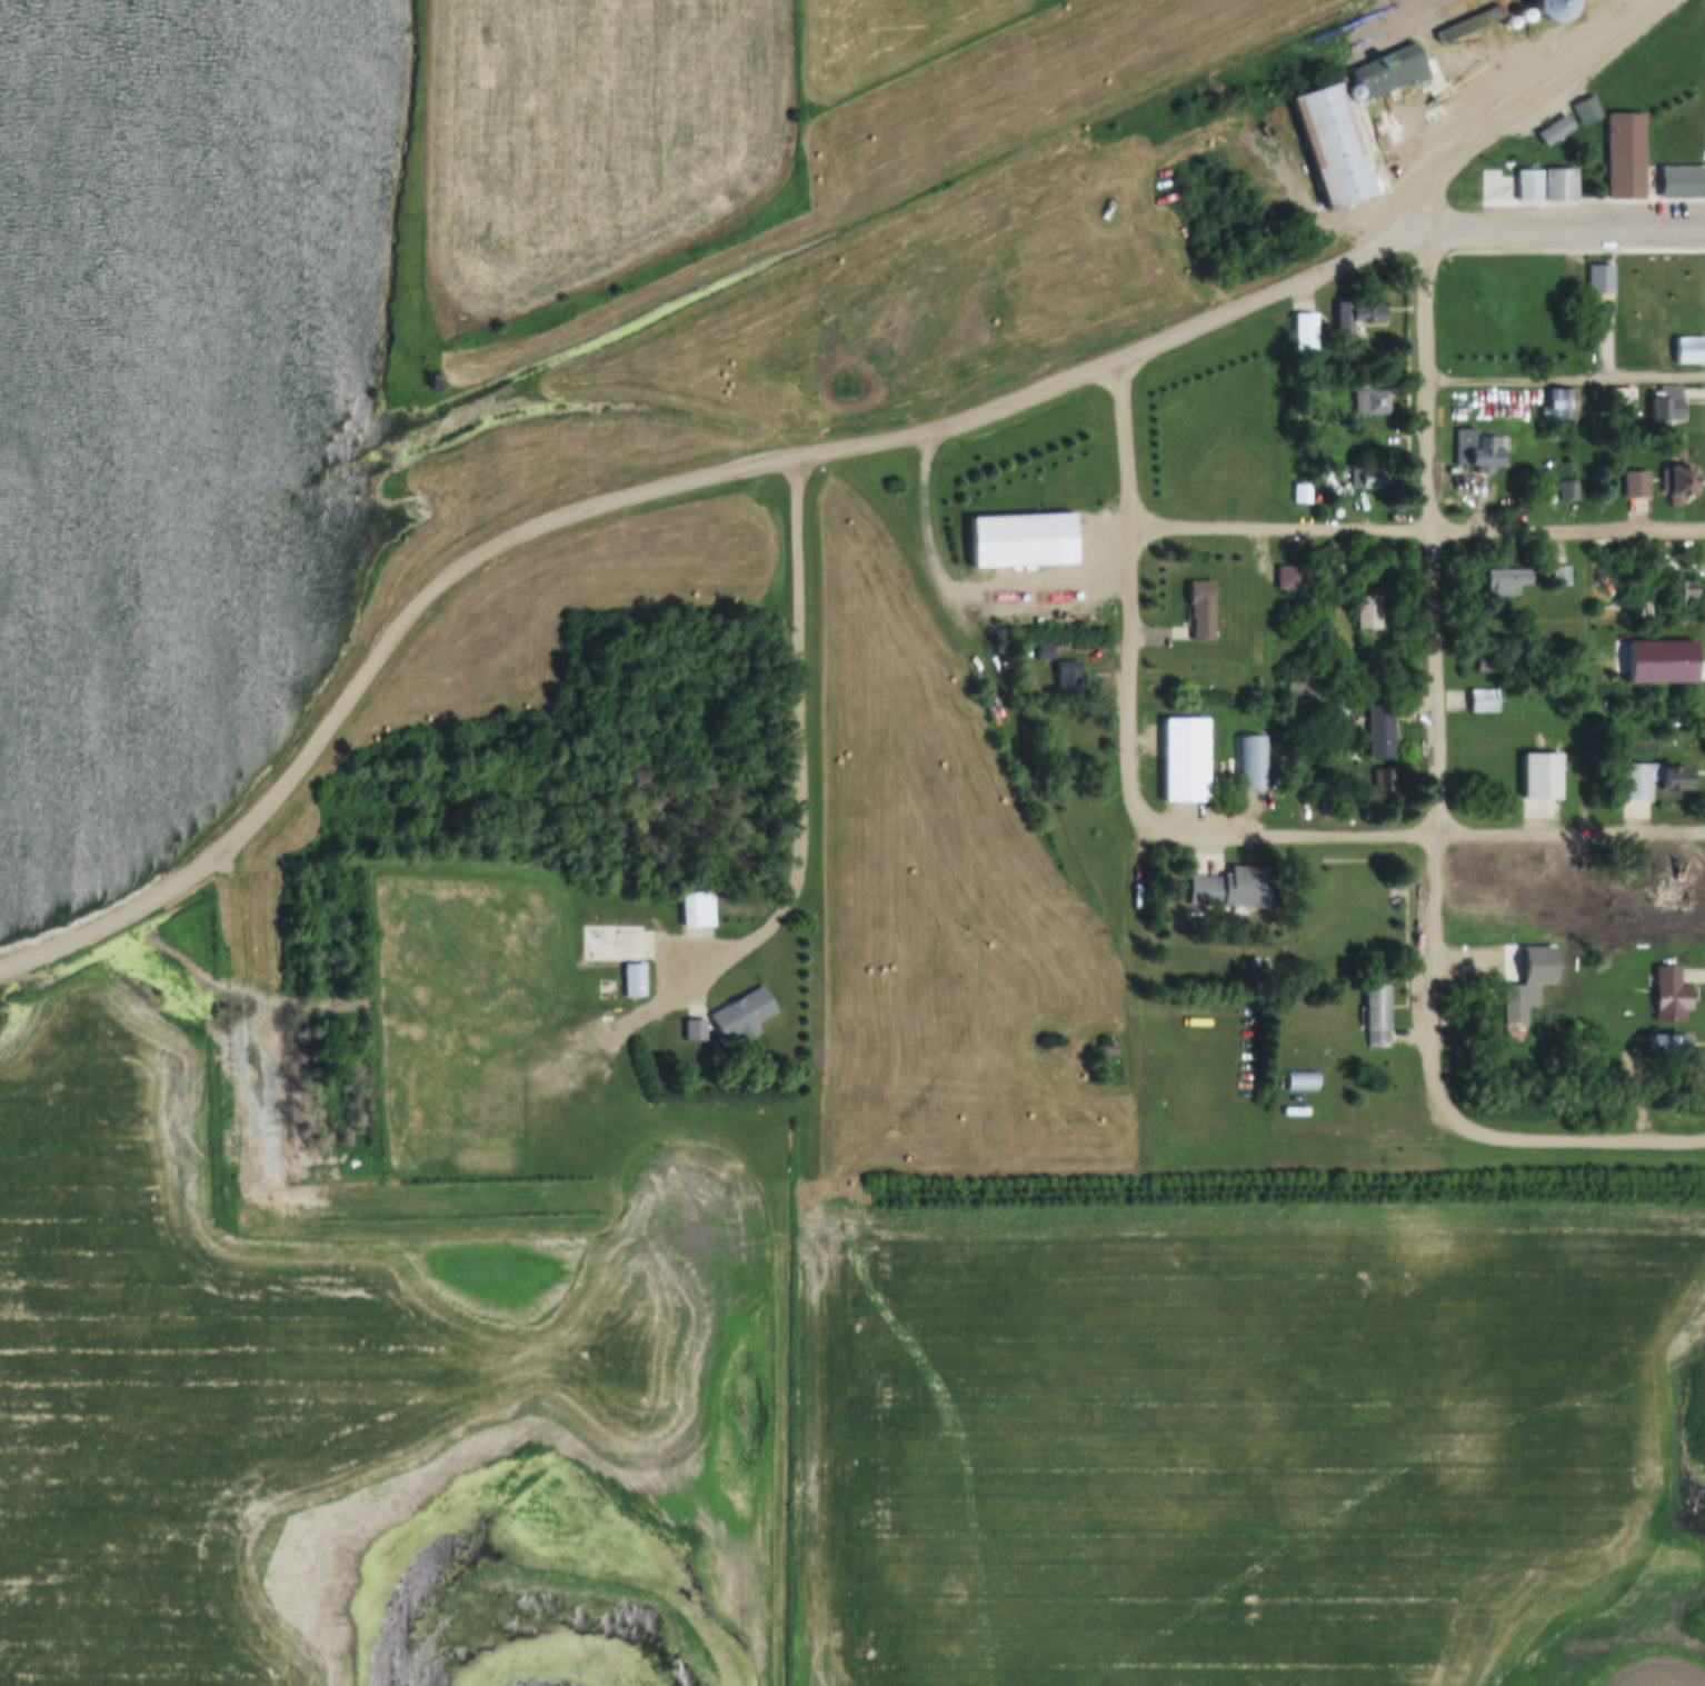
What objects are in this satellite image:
building: (1549, 10)
silo: (1549, 10)
building: (1522, 17)
silo: (1522, 17)
building: (1507, 23)
silo: (1507, 23)
building: (1467, 24)
storage tank: (1464, 44)
storage tank: (1453, 49)
building: (1427, 67)
silo: (1427, 67)
building: (1389, 71)
building: (1346, 93)
silo: (1346, 93)
road: (1530, 102)
building: (1585, 111)
building: (1353, 112)
silo: (1353, 112)
building: (1357, 126)
silo: (1357, 126)
building: (1563, 126)
silo: (1563, 126)
building: (1546, 133)
silo: (1546, 133)
crop: (585, 138)
building: (1363, 140)
silo: (1363, 140)
building: (1329, 147)
building: (1367, 154)
silo: (1367, 154)
building: (1623, 157)
building: (1373, 169)
silo: (1373, 169)
building: (1681, 183)
building: (1377, 186)
silo: (1377, 186)
building: (1526, 186)
building: (1558, 186)
building: (1500, 189)
road: (1566, 228)
building: (1664, 277)
building: (1599, 280)
building: (1693, 280)
building: (1635, 291)
building: (1356, 316)
building: (1304, 333)
building: (1688, 351)
road: (1566, 378)
building: (1621, 399)
building: (1369, 403)
building: (1559, 405)
building: (1664, 407)
road: (946, 429)
building: (1475, 451)
building: (1367, 479)
building: (1676, 483)
building: (1635, 485)
building: (1566, 491)
building: (1300, 496)
road: (1417, 529)
building: (1019, 542)
building: (1653, 575)
building: (1561, 577)
building: (1330, 578)
building: (1287, 579)
building: (1505, 582)
building: (1681, 596)
road: (1129, 597)
building: (1199, 610)
building: (1367, 613)
building: (1043, 652)
building: (1677, 662)
building: (1066, 676)
road: (1434, 687)
building: (1483, 702)
building: (1380, 732)
building: (1252, 765)
building: (1539, 778)
building: (1649, 781)
building: (1380, 790)
building: (1325, 792)
road: (256, 809)
road: (802, 829)
road: (1424, 836)
building: (1229, 889)
building: (1671, 897)
building: (671, 906)
silo: (671, 906)
building: (697, 911)
building: (1264, 968)
building: (1546, 976)
road: (1149, 978)
building: (631, 981)
building: (1669, 997)
building: (1513, 1005)
building: (740, 1017)
building: (1375, 1017)
building: (692, 1031)
building: (1666, 1046)
building: (1106, 1051)
building: (1299, 1083)
road: (1313, 1135)
road: (1587, 1137)

